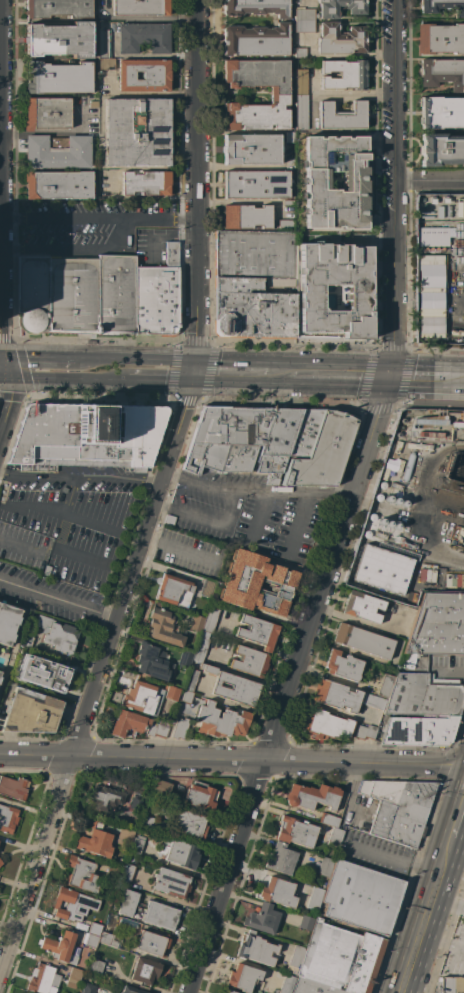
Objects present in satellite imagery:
building: (443, 6)
building: (141, 7)
building: (257, 7)
building: (340, 7)
building: (59, 8)
building: (305, 20)
building: (144, 37)
building: (440, 38)
building: (60, 39)
building: (341, 39)
building: (256, 40)
building: (104, 43)
building: (301, 52)
building: (107, 63)
building: (443, 73)
building: (257, 74)
building: (344, 74)
building: (144, 75)
building: (58, 78)
building: (301, 82)
road: (313, 93)
road: (353, 93)
building: (93, 104)
road: (0, 109)
building: (302, 112)
building: (441, 112)
building: (47, 113)
building: (257, 114)
building: (343, 115)
building: (137, 132)
building: (291, 137)
building: (251, 149)
building: (442, 149)
building: (58, 151)
road: (242, 166)
road: (429, 179)
road: (194, 181)
building: (146, 182)
building: (315, 183)
road: (394, 183)
building: (59, 184)
building: (256, 184)
building: (288, 203)
building: (246, 217)
road: (13, 218)
road: (73, 218)
road: (149, 218)
road: (186, 218)
building: (287, 225)
road: (120, 232)
building: (432, 236)
road: (12, 247)
road: (72, 247)
building: (255, 284)
building: (309, 290)
building: (429, 294)
building: (78, 295)
building: (159, 295)
road: (1, 329)
road: (2, 356)
traffic signals: (5, 357)
road: (39, 357)
road: (134, 360)
traffic signals: (194, 362)
road: (224, 363)
road: (323, 365)
traffic signals: (393, 366)
road: (428, 366)
road: (192, 374)
road: (389, 378)
road: (5, 380)
traffic signals: (11, 381)
road: (70, 382)
road: (159, 384)
traffic signals: (190, 386)
road: (236, 387)
road: (300, 388)
road: (352, 390)
traffic signals: (386, 391)
road: (425, 391)
building: (305, 433)
building: (87, 436)
building: (243, 439)
building: (324, 451)
road: (80, 474)
road: (256, 487)
road: (65, 492)
road: (34, 507)
road: (257, 514)
road: (86, 521)
road: (299, 521)
road: (206, 522)
parking lot: (70, 527)
road: (437, 532)
road: (20, 543)
road: (176, 546)
road: (62, 551)
building: (50, 569)
building: (381, 569)
building: (427, 579)
building: (257, 583)
building: (172, 588)
building: (208, 588)
road: (56, 598)
building: (363, 606)
building: (210, 620)
building: (8, 622)
building: (197, 624)
building: (438, 625)
building: (163, 626)
building: (258, 631)
building: (58, 634)
building: (27, 640)
building: (364, 640)
building: (201, 646)
building: (185, 658)
building: (250, 661)
building: (153, 662)
building: (343, 665)
road: (94, 670)
road: (448, 670)
building: (44, 674)
building: (0, 679)
building: (191, 680)
building: (386, 684)
building: (233, 686)
road: (285, 691)
building: (171, 693)
building: (336, 695)
building: (425, 695)
building: (186, 696)
building: (143, 697)
building: (374, 701)
building: (31, 712)
building: (221, 720)
building: (128, 723)
building: (326, 725)
building: (180, 728)
building: (157, 730)
building: (418, 730)
building: (366, 732)
road: (232, 760)
building: (142, 785)
building: (160, 787)
building: (14, 788)
building: (201, 796)
building: (312, 796)
building: (105, 798)
building: (136, 803)
building: (398, 808)
road: (457, 816)
building: (8, 818)
building: (329, 820)
building: (147, 821)
building: (190, 824)
building: (296, 831)
building: (125, 835)
building: (335, 837)
building: (96, 840)
building: (137, 845)
building: (180, 853)
building: (281, 859)
road: (390, 859)
building: (1, 862)
building: (325, 866)
building: (114, 872)
building: (80, 874)
building: (127, 875)
building: (171, 882)
building: (277, 891)
building: (360, 897)
building: (315, 898)
road: (447, 902)
building: (72, 904)
building: (148, 911)
road: (425, 915)
building: (263, 919)
building: (307, 923)
building: (95, 929)
building: (108, 939)
building: (92, 940)
building: (153, 943)
road: (441, 943)
building: (61, 947)
building: (257, 949)
building: (343, 957)
building: (295, 961)
building: (97, 966)
building: (145, 972)
building: (74, 975)
building: (243, 977)
building: (44, 979)
building: (287, 984)
building: (451, 985)
building: (315, 987)
building: (89, 988)
building: (131, 990)
building: (230, 991)

